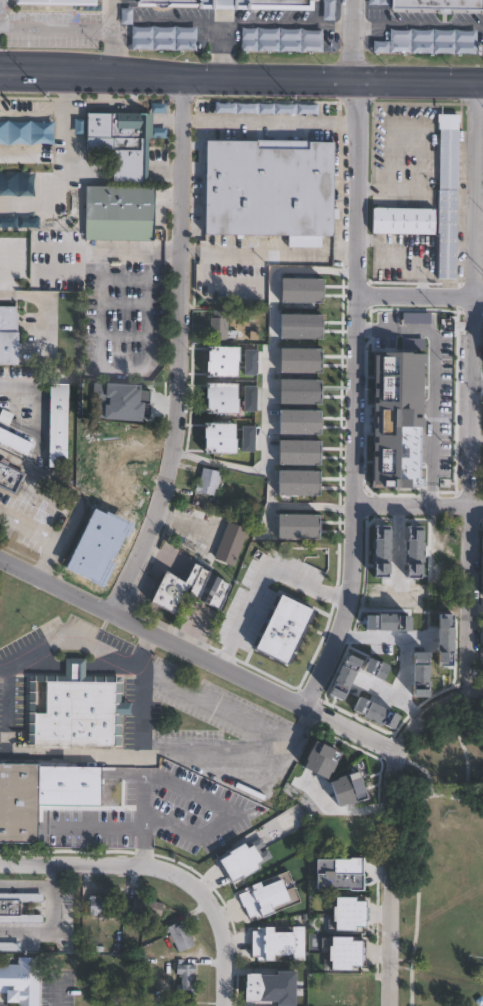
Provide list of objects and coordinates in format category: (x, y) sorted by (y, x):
building: (52, 1)
building: (229, 2)
building: (435, 4)
building: (328, 9)
road: (178, 20)
road: (262, 21)
road: (421, 25)
road: (70, 30)
building: (162, 38)
road: (360, 39)
building: (280, 40)
building: (427, 41)
road: (111, 53)
road: (34, 74)
road: (275, 77)
road: (274, 120)
building: (26, 132)
building: (117, 139)
road: (67, 164)
building: (449, 177)
building: (270, 187)
building: (24, 203)
building: (118, 211)
building: (404, 220)
building: (17, 245)
road: (110, 249)
building: (220, 282)
road: (420, 296)
building: (220, 324)
building: (10, 335)
building: (395, 338)
building: (447, 340)
road: (182, 350)
building: (303, 358)
building: (224, 360)
road: (121, 370)
building: (394, 376)
road: (433, 383)
road: (472, 384)
road: (477, 387)
road: (269, 388)
building: (302, 391)
building: (223, 398)
road: (358, 400)
building: (137, 402)
building: (392, 418)
building: (303, 419)
building: (56, 424)
building: (222, 437)
building: (132, 443)
building: (301, 450)
building: (420, 454)
road: (222, 464)
building: (392, 465)
building: (92, 468)
building: (9, 477)
building: (209, 481)
building: (300, 481)
road: (59, 486)
building: (124, 487)
road: (420, 504)
building: (297, 510)
building: (301, 524)
road: (28, 526)
building: (228, 543)
building: (400, 546)
road: (46, 557)
road: (259, 580)
building: (389, 581)
building: (168, 587)
building: (210, 589)
building: (388, 623)
road: (374, 643)
road: (141, 650)
building: (419, 665)
road: (145, 673)
road: (246, 683)
building: (361, 689)
road: (479, 693)
road: (393, 699)
building: (75, 707)
road: (3, 711)
road: (141, 715)
road: (166, 759)
building: (344, 792)
road: (470, 796)
building: (19, 802)
road: (141, 811)
road: (225, 821)
building: (352, 832)
road: (97, 834)
road: (418, 841)
building: (242, 860)
road: (106, 861)
building: (340, 873)
road: (391, 882)
road: (26, 885)
park: (441, 887)
building: (266, 896)
building: (103, 905)
building: (17, 907)
building: (144, 908)
building: (352, 912)
road: (51, 919)
building: (180, 936)
road: (230, 944)
building: (10, 945)
building: (276, 945)
building: (351, 953)
building: (186, 978)
building: (21, 981)
building: (264, 988)
building: (351, 992)
road: (53, 994)
building: (185, 1003)

